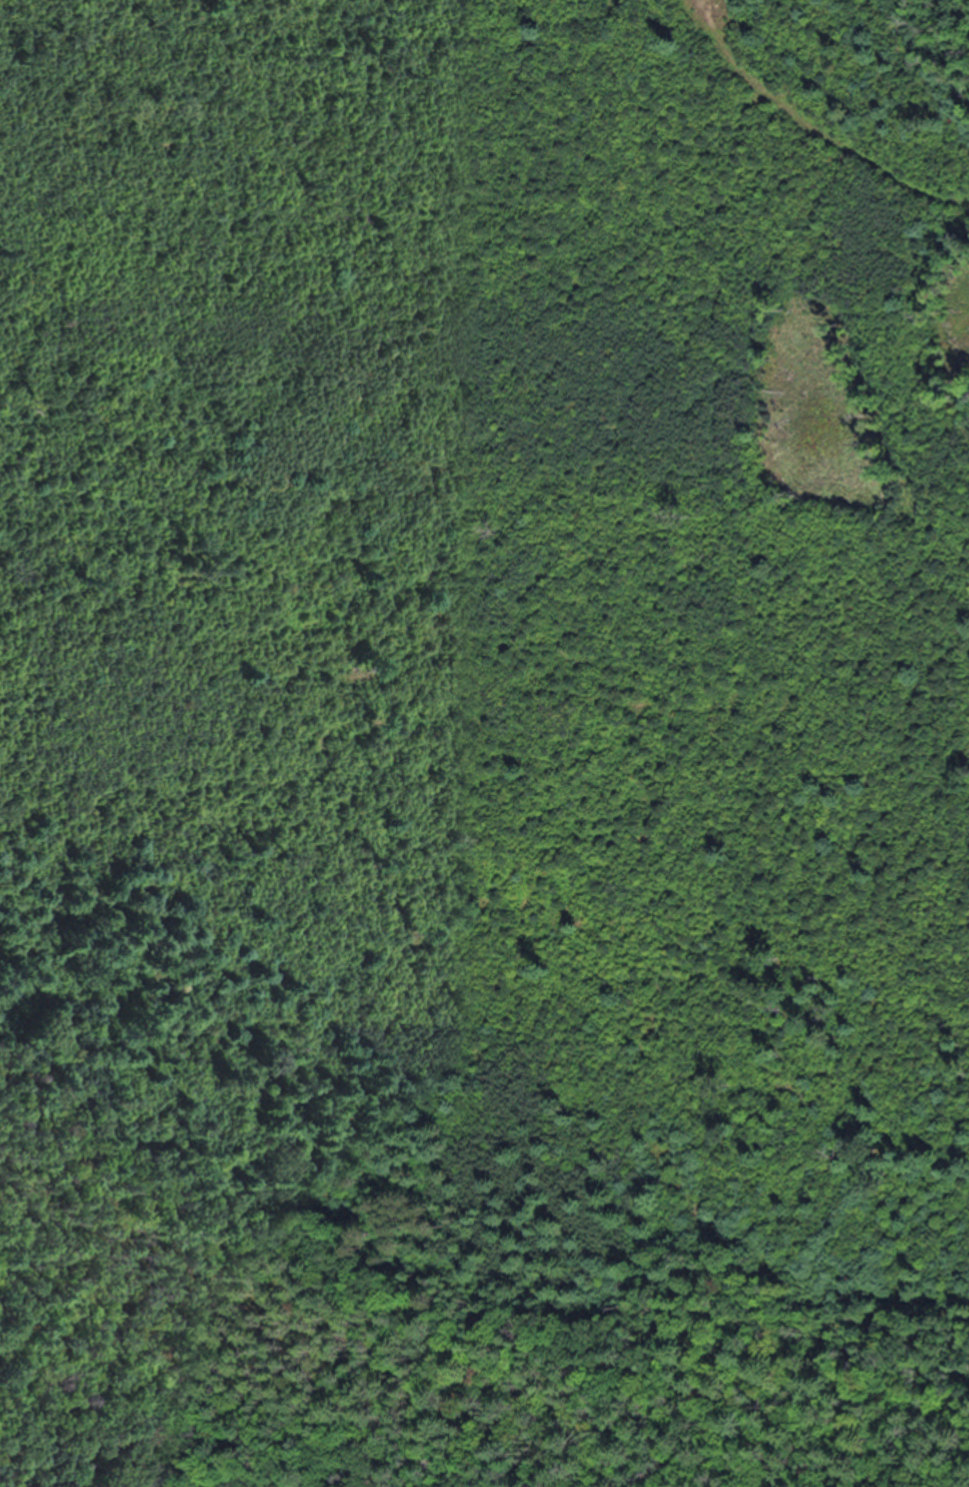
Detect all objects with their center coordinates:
park: (875, 734)

